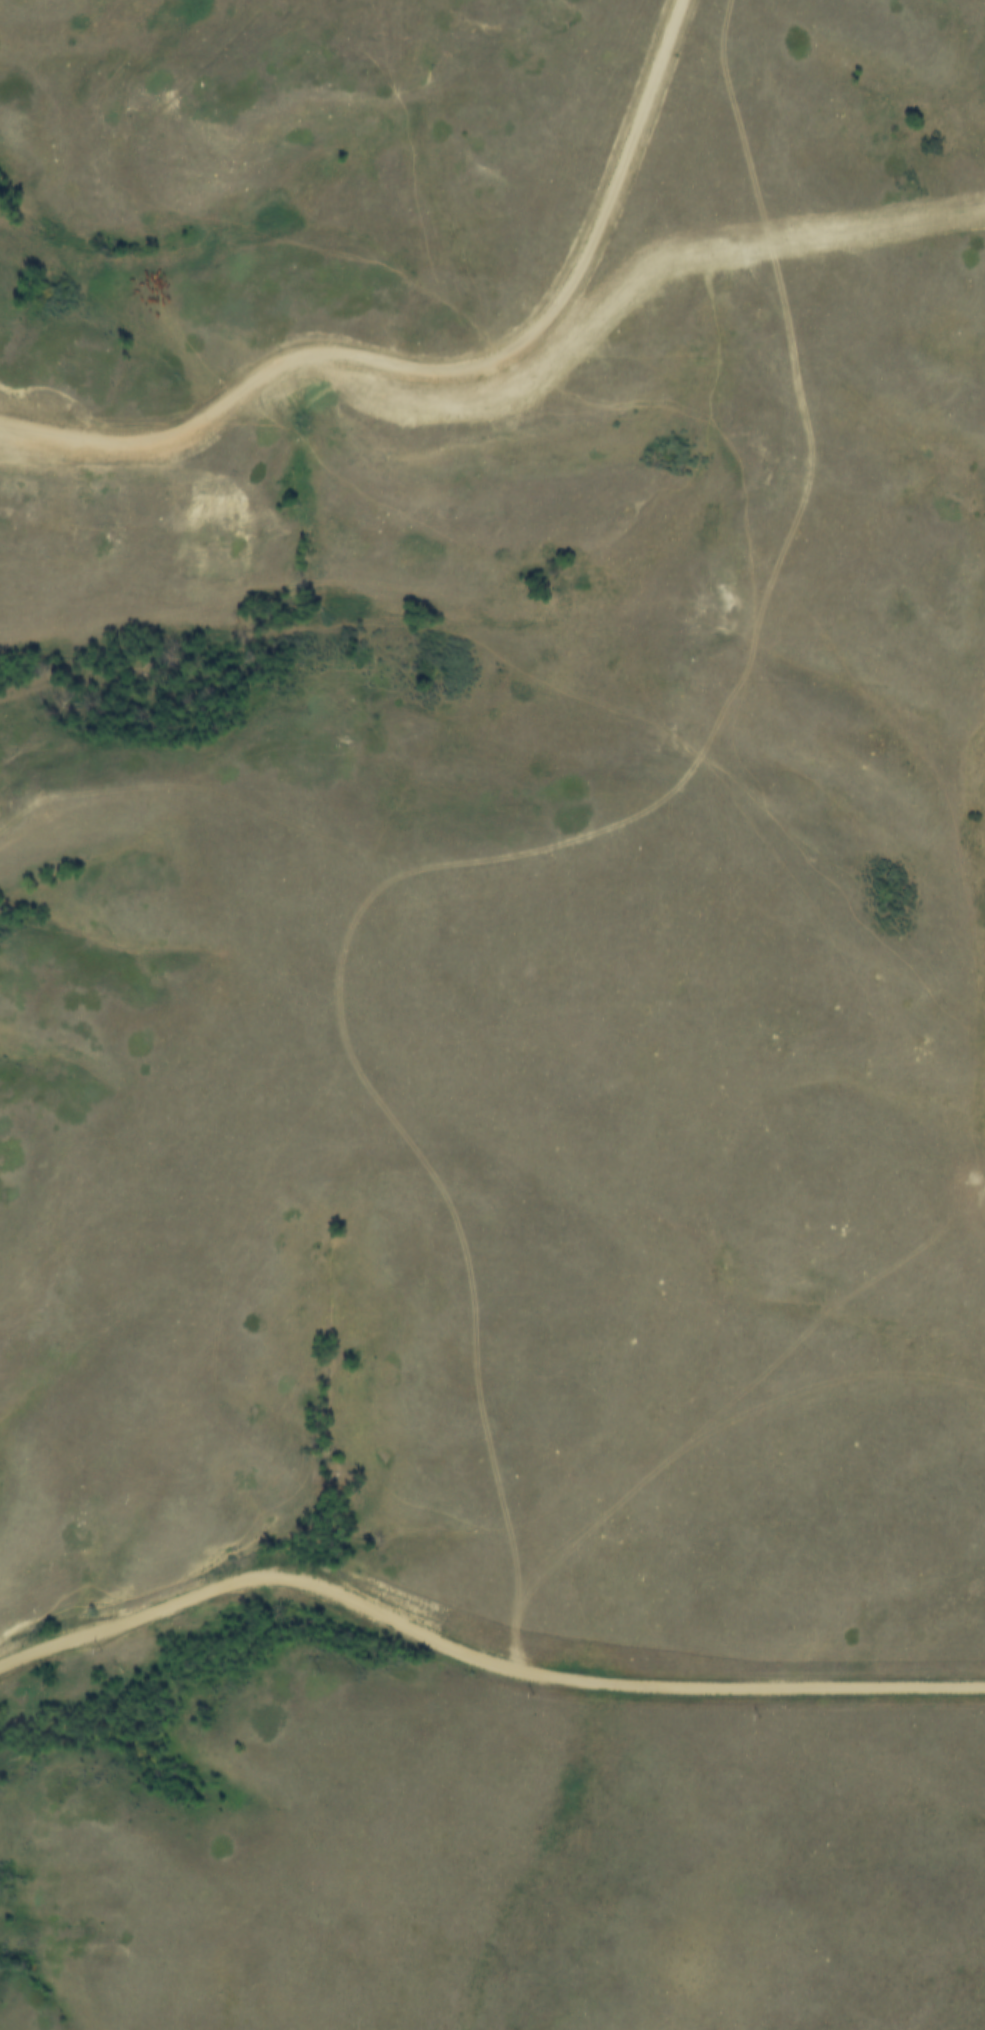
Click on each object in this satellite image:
road: (442, 372)
road: (478, 1659)

